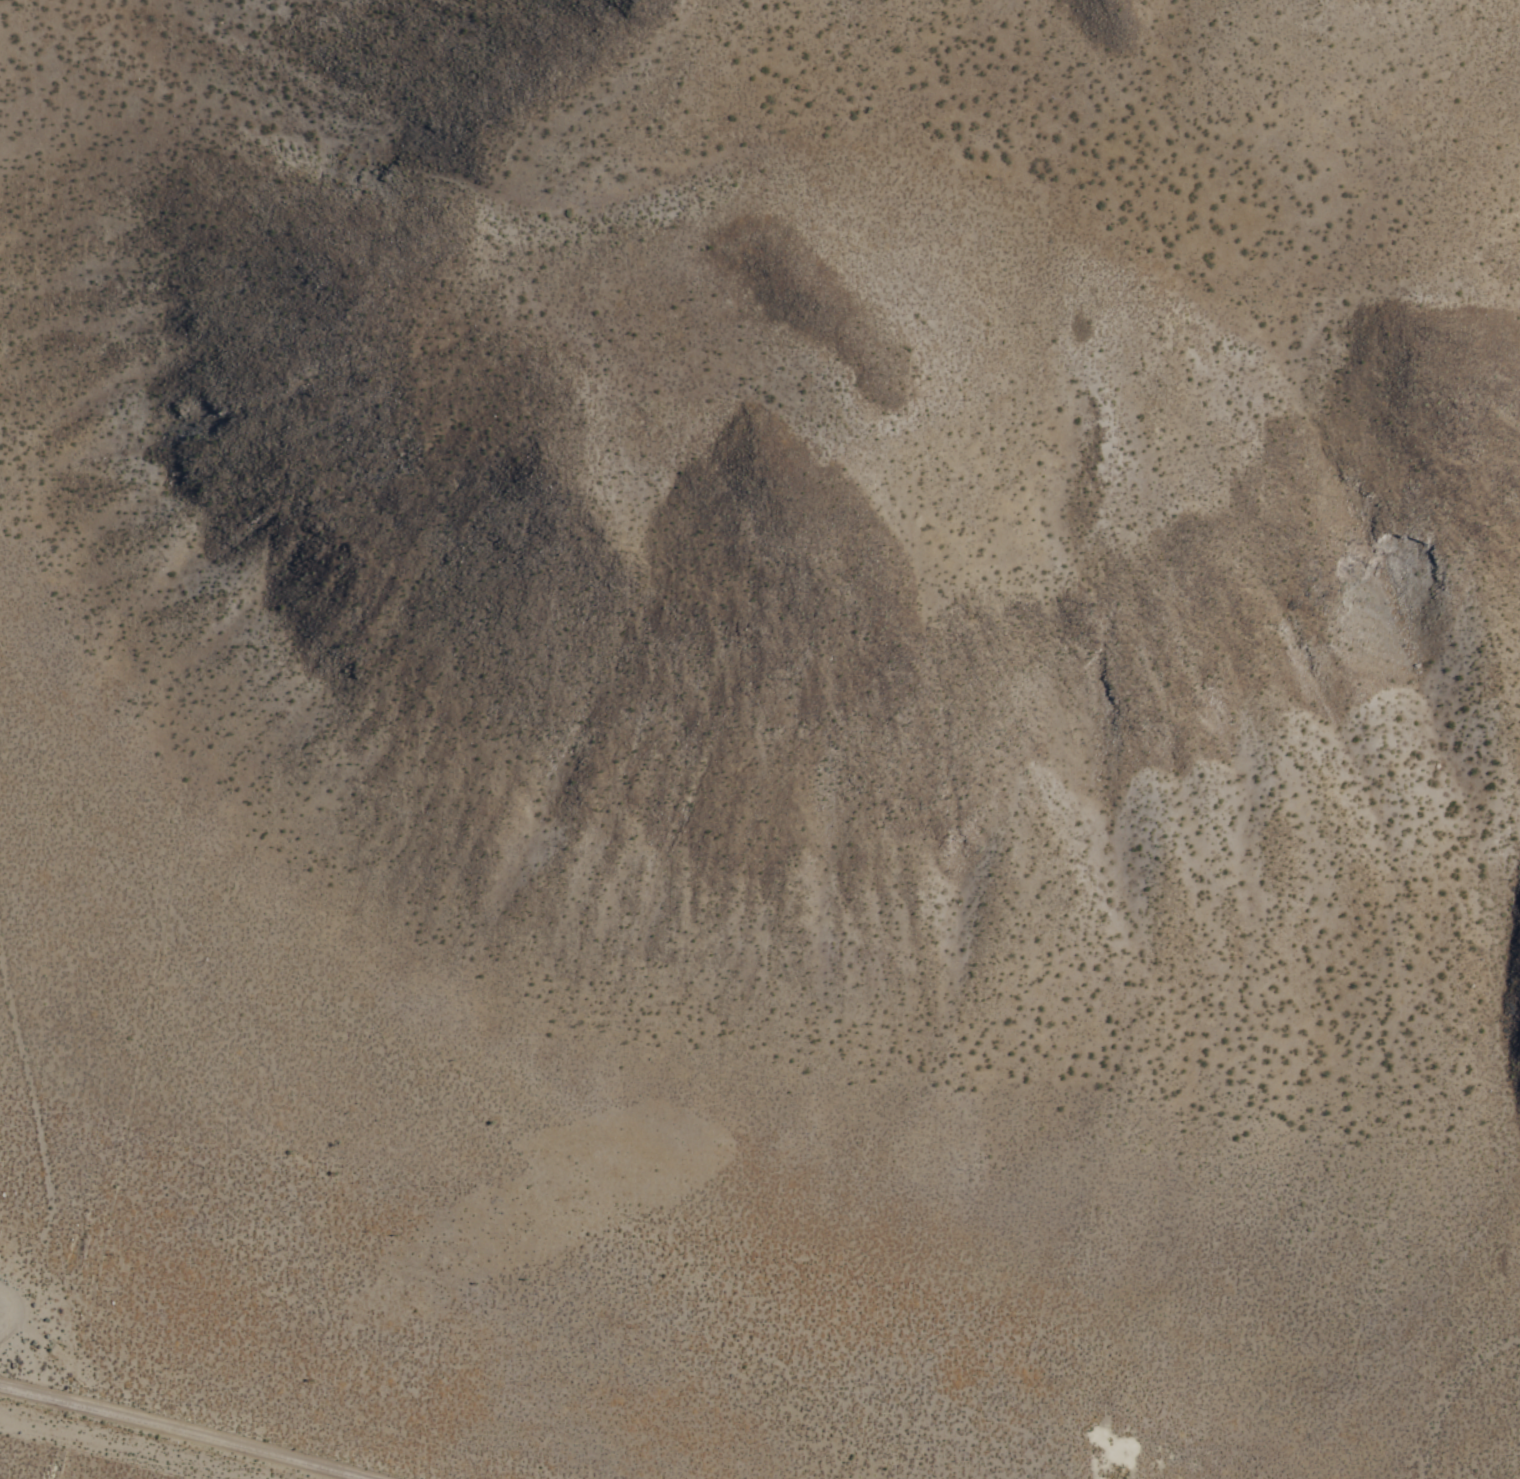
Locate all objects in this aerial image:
road: (177, 1433)

